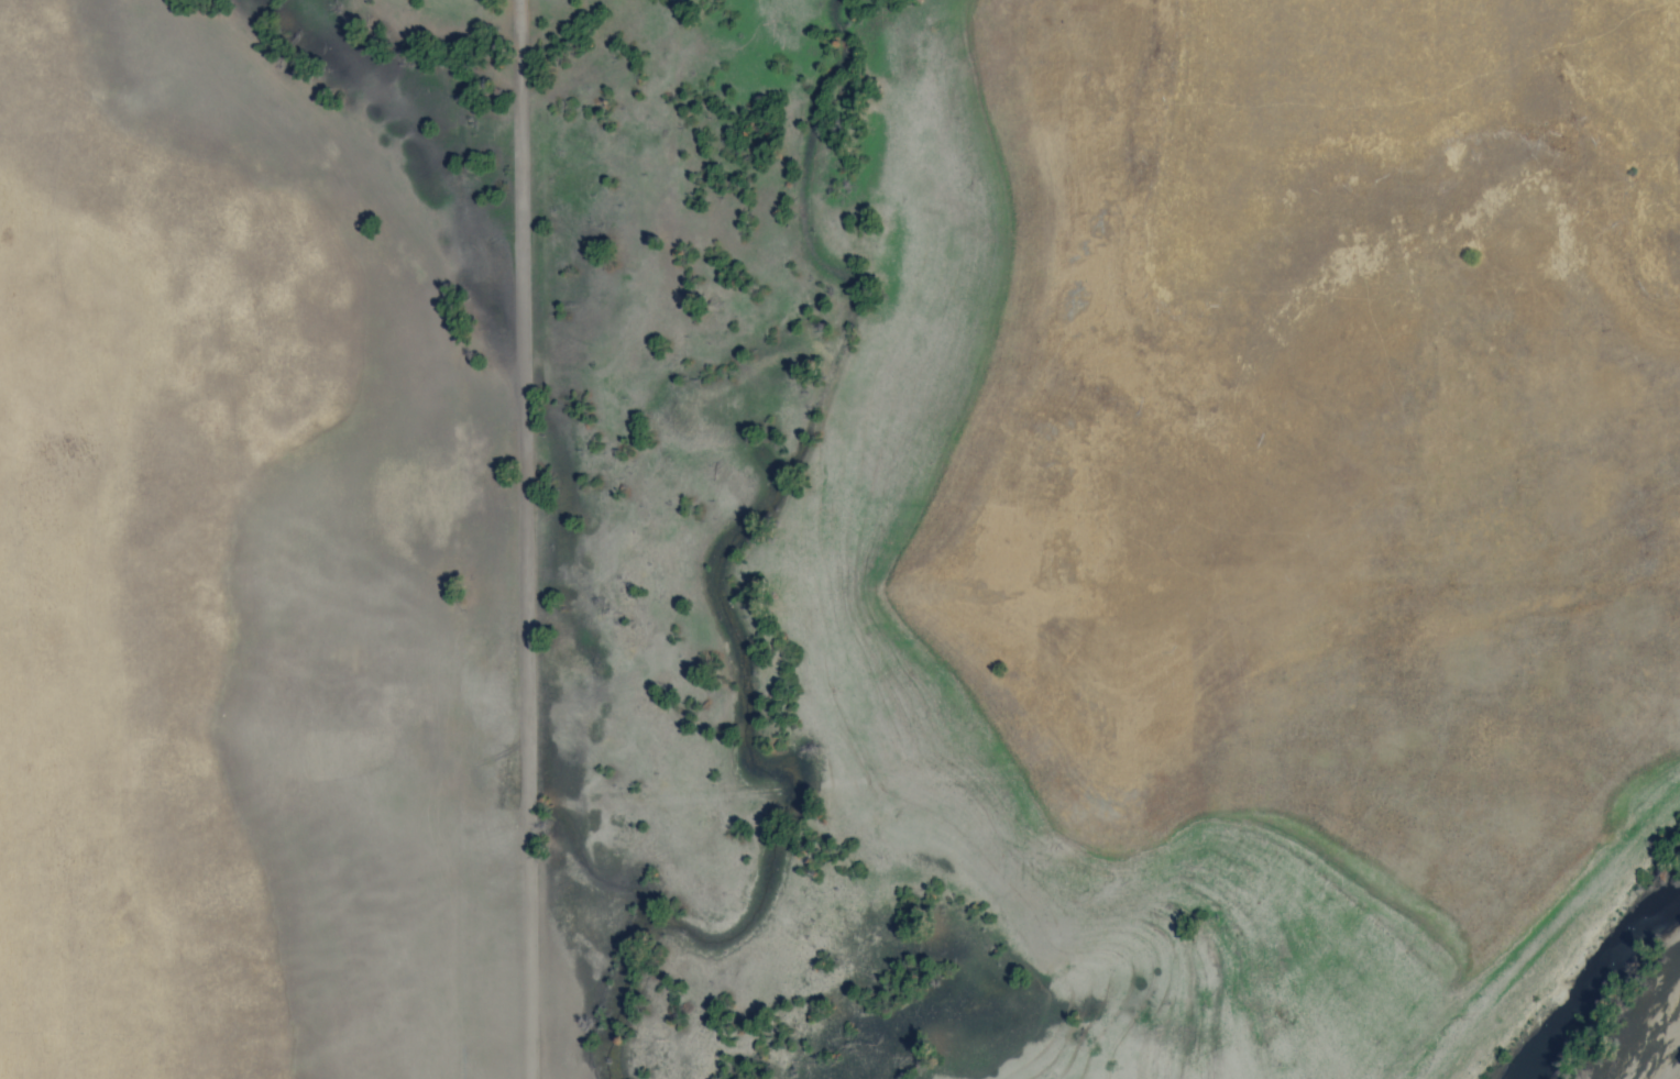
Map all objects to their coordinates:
river: (1600, 981)

